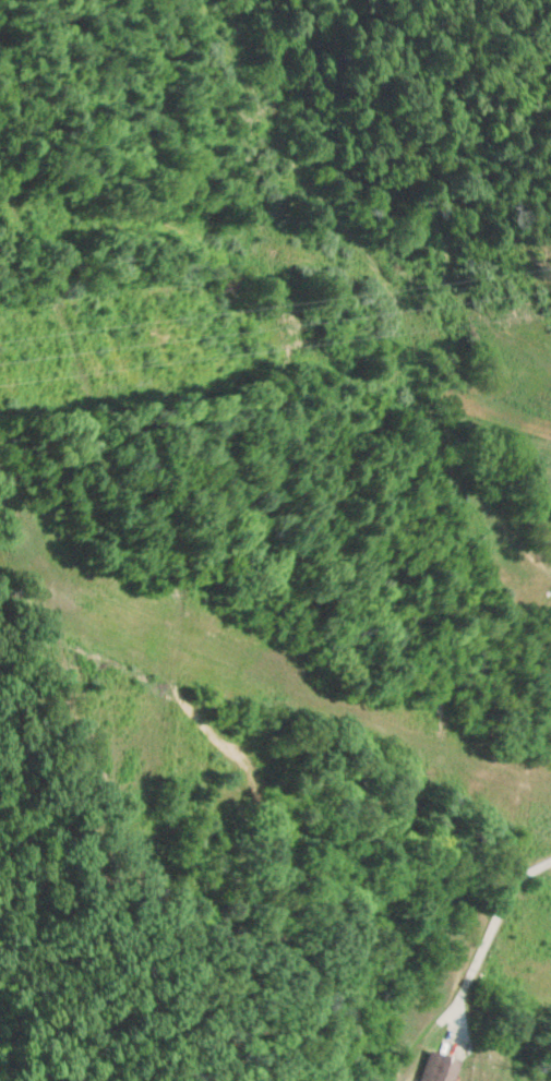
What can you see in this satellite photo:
building: (450, 1067)

